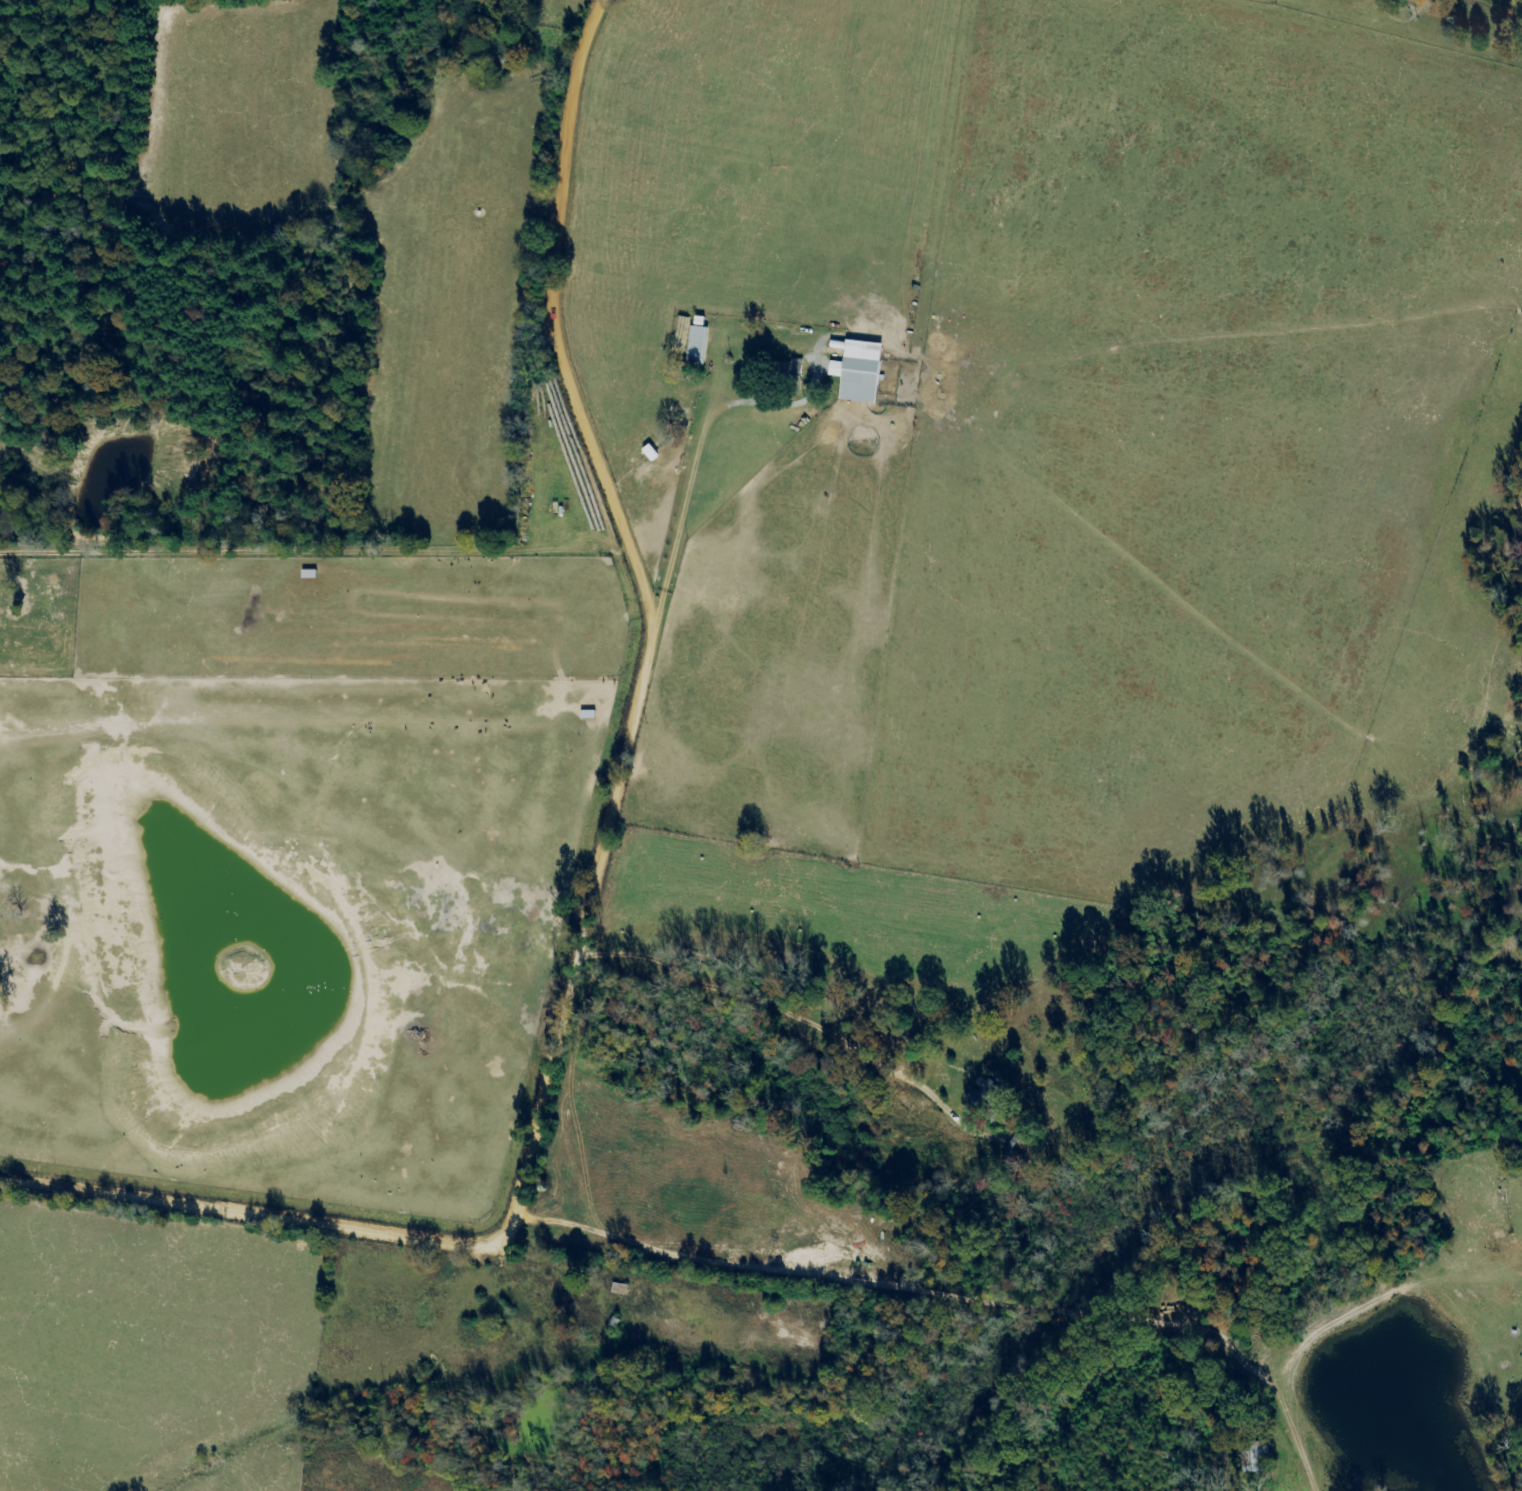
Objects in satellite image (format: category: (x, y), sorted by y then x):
building: (700, 345)
building: (799, 367)
building: (863, 372)
road: (704, 418)
road: (597, 868)
road: (792, 904)
road: (599, 1216)

